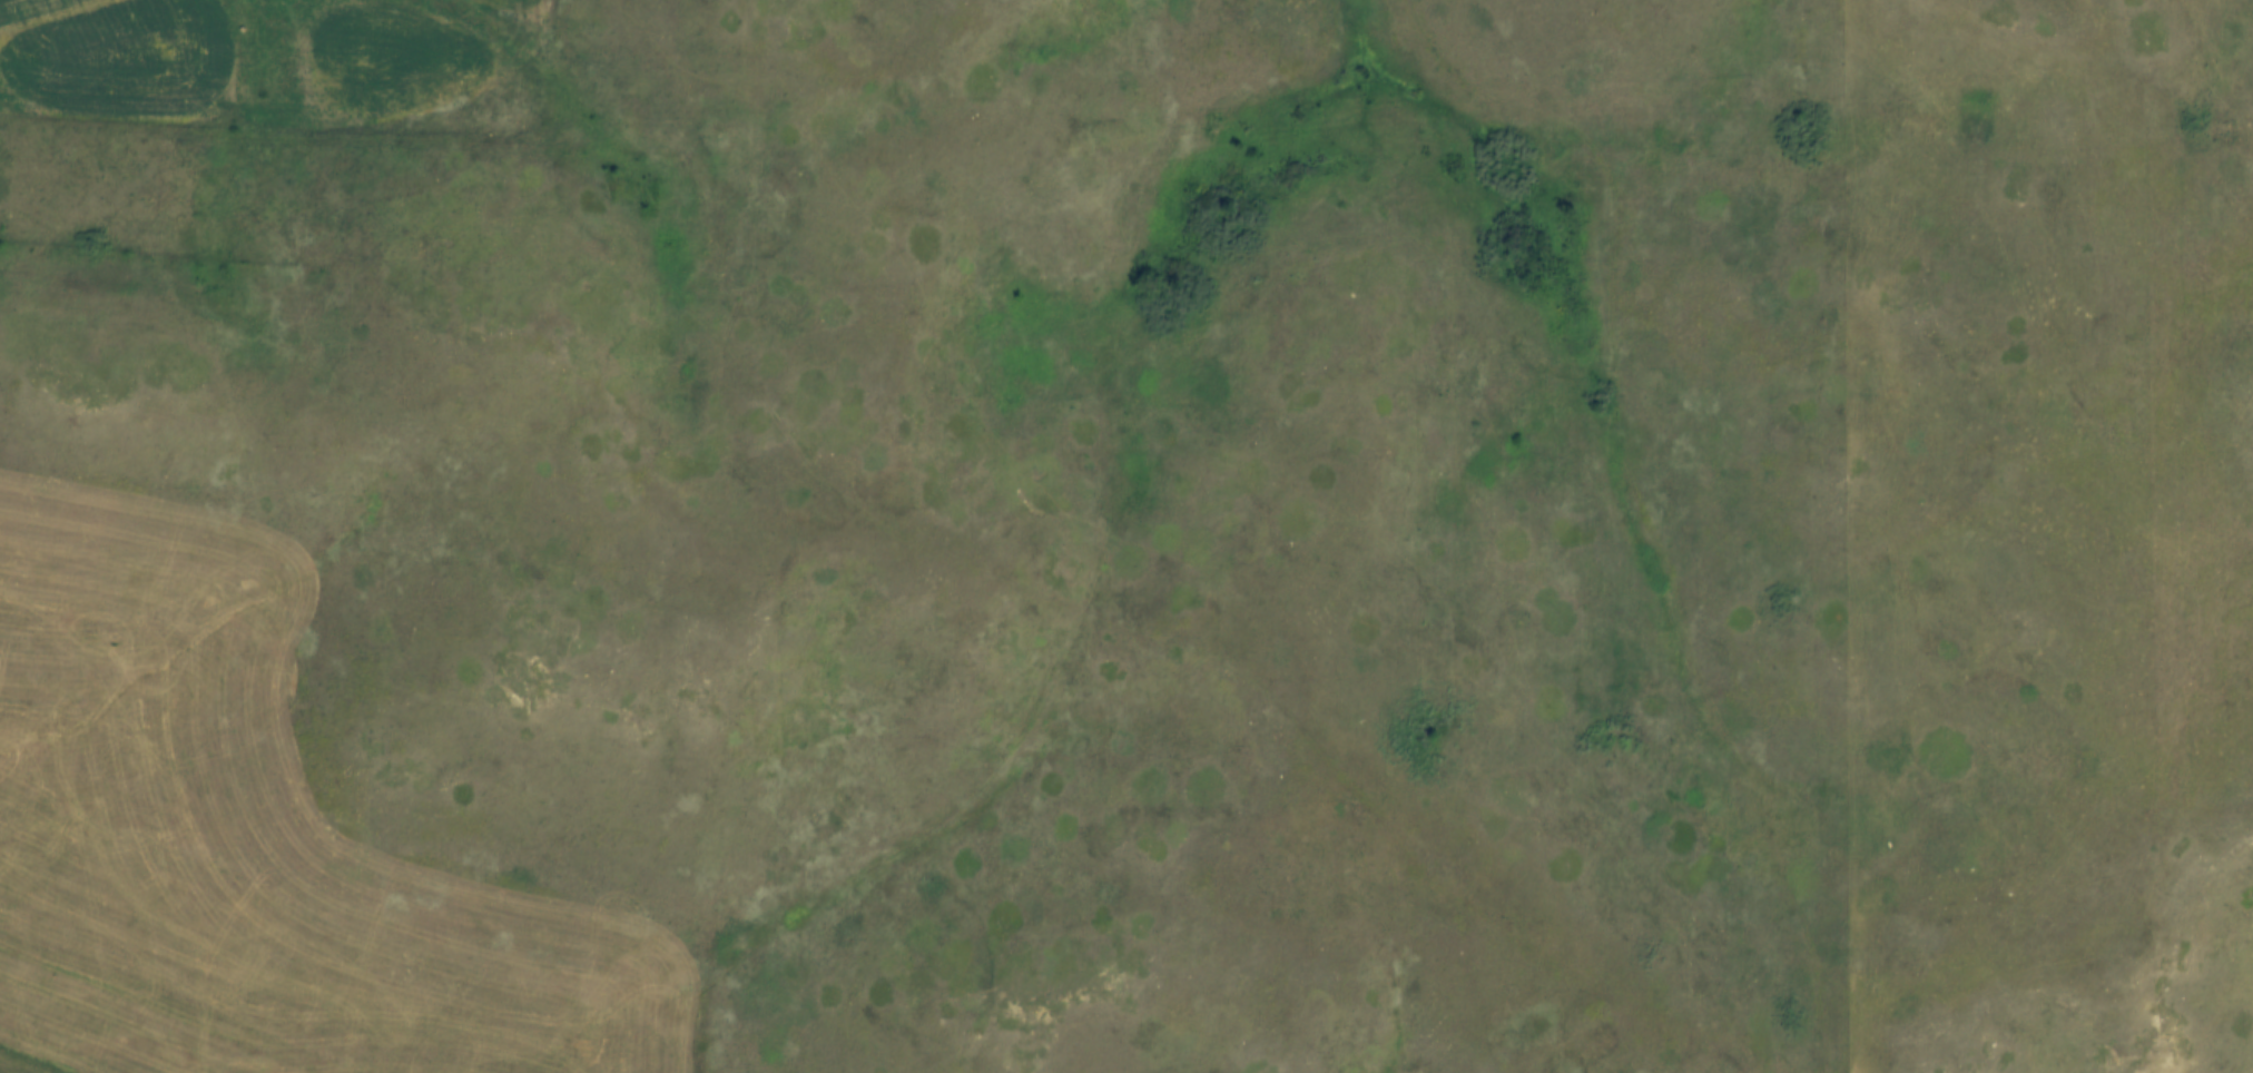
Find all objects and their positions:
road: (2080, 859)

